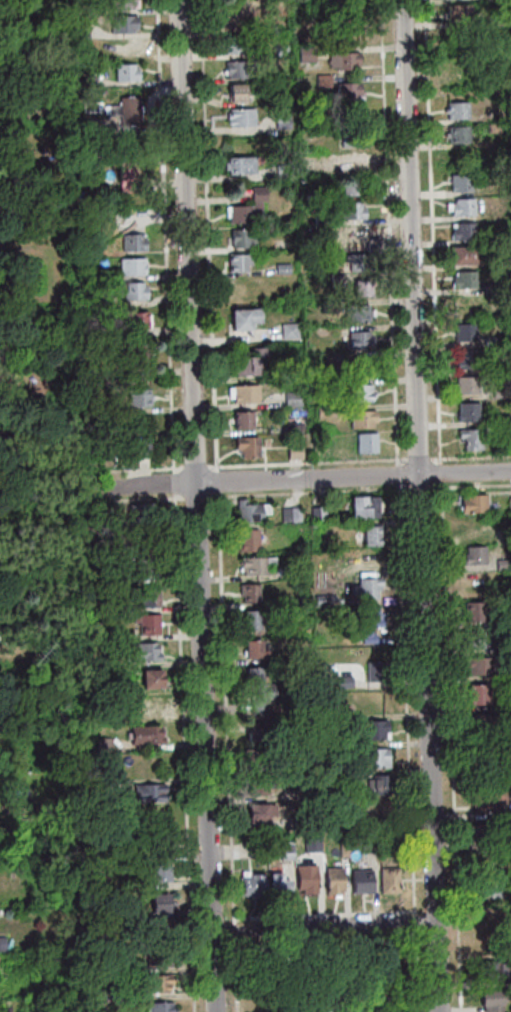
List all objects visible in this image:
building: (123, 3)
building: (81, 8)
building: (459, 13)
building: (500, 17)
building: (232, 19)
building: (121, 23)
building: (352, 23)
building: (277, 27)
building: (77, 29)
building: (232, 44)
building: (279, 50)
building: (305, 54)
building: (459, 58)
building: (342, 60)
building: (236, 68)
building: (124, 72)
building: (321, 79)
building: (85, 81)
building: (348, 90)
building: (235, 92)
building: (124, 110)
building: (455, 110)
building: (240, 116)
building: (281, 120)
building: (82, 126)
building: (491, 128)
building: (456, 135)
building: (350, 137)
building: (127, 144)
building: (32, 145)
building: (81, 153)
building: (350, 162)
building: (239, 165)
building: (307, 168)
building: (282, 172)
building: (128, 175)
building: (459, 182)
building: (352, 186)
building: (306, 194)
building: (246, 207)
building: (460, 207)
building: (350, 210)
building: (121, 218)
building: (319, 219)
building: (460, 231)
road: (387, 232)
road: (429, 232)
building: (352, 234)
road: (206, 235)
road: (164, 236)
building: (240, 237)
building: (507, 237)
building: (132, 242)
building: (308, 242)
building: (463, 255)
building: (357, 261)
building: (236, 262)
building: (130, 266)
building: (281, 268)
building: (87, 275)
building: (334, 279)
building: (462, 279)
building: (245, 285)
building: (360, 288)
building: (491, 288)
building: (133, 290)
building: (101, 299)
building: (464, 306)
building: (355, 313)
building: (242, 317)
building: (138, 319)
building: (287, 330)
building: (462, 331)
building: (358, 340)
building: (490, 341)
building: (138, 356)
building: (464, 359)
building: (250, 362)
building: (362, 365)
building: (508, 366)
building: (44, 372)
building: (465, 384)
building: (358, 392)
building: (498, 392)
building: (244, 393)
building: (137, 397)
building: (291, 398)
building: (108, 408)
building: (323, 411)
building: (466, 411)
building: (360, 419)
building: (499, 419)
building: (241, 420)
building: (293, 427)
building: (469, 438)
building: (1, 439)
building: (128, 439)
building: (314, 440)
building: (364, 442)
building: (245, 446)
building: (293, 451)
road: (469, 456)
road: (417, 459)
road: (305, 461)
road: (193, 467)
road: (135, 469)
road: (438, 472)
road: (396, 474)
road: (305, 478)
road: (215, 480)
road: (173, 484)
road: (469, 485)
road: (417, 487)
road: (307, 492)
road: (195, 496)
road: (144, 498)
building: (471, 503)
building: (509, 504)
road: (195, 506)
road: (418, 506)
building: (363, 507)
building: (109, 511)
building: (249, 511)
building: (316, 513)
building: (293, 514)
building: (140, 516)
building: (297, 527)
building: (472, 528)
building: (370, 536)
building: (247, 540)
building: (318, 543)
building: (109, 551)
building: (473, 555)
building: (502, 564)
building: (255, 565)
building: (143, 568)
building: (293, 573)
building: (365, 587)
building: (248, 592)
building: (147, 597)
building: (319, 599)
building: (300, 601)
building: (471, 612)
building: (250, 619)
building: (510, 619)
building: (368, 622)
building: (148, 624)
building: (298, 629)
building: (98, 633)
building: (471, 640)
building: (502, 648)
building: (253, 649)
building: (142, 651)
building: (38, 663)
building: (100, 663)
building: (479, 665)
building: (374, 671)
building: (506, 675)
building: (151, 679)
building: (343, 682)
building: (258, 689)
building: (475, 694)
road: (404, 697)
building: (509, 703)
building: (149, 706)
road: (224, 707)
building: (326, 723)
building: (480, 723)
building: (374, 730)
building: (143, 734)
building: (102, 745)
building: (260, 745)
road: (449, 747)
building: (328, 749)
building: (477, 751)
road: (183, 753)
building: (373, 758)
building: (339, 779)
building: (379, 784)
building: (99, 785)
building: (259, 785)
building: (147, 793)
building: (485, 795)
building: (350, 803)
building: (256, 813)
building: (377, 813)
building: (299, 819)
building: (106, 825)
building: (4, 833)
building: (480, 833)
building: (387, 837)
building: (509, 841)
building: (367, 842)
building: (311, 843)
building: (160, 845)
building: (255, 849)
building: (286, 852)
building: (116, 857)
building: (159, 873)
building: (305, 878)
building: (360, 880)
building: (388, 880)
building: (332, 881)
building: (277, 885)
building: (252, 886)
building: (485, 888)
building: (158, 903)
building: (116, 910)
road: (413, 913)
road: (323, 914)
road: (413, 924)
road: (323, 925)
building: (160, 929)
road: (234, 930)
building: (1, 943)
building: (157, 956)
building: (110, 967)
building: (361, 969)
road: (414, 971)
building: (490, 972)
road: (234, 974)
park: (328, 975)
building: (153, 983)
building: (111, 994)
building: (489, 1001)
building: (159, 1007)

